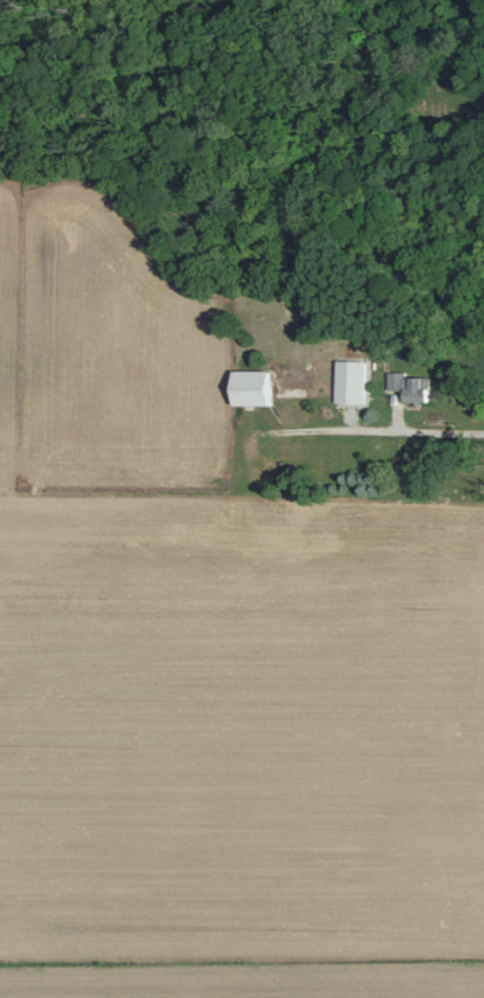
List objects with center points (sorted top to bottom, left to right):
building: (405, 386)
building: (247, 387)
road: (377, 430)
road: (155, 494)

